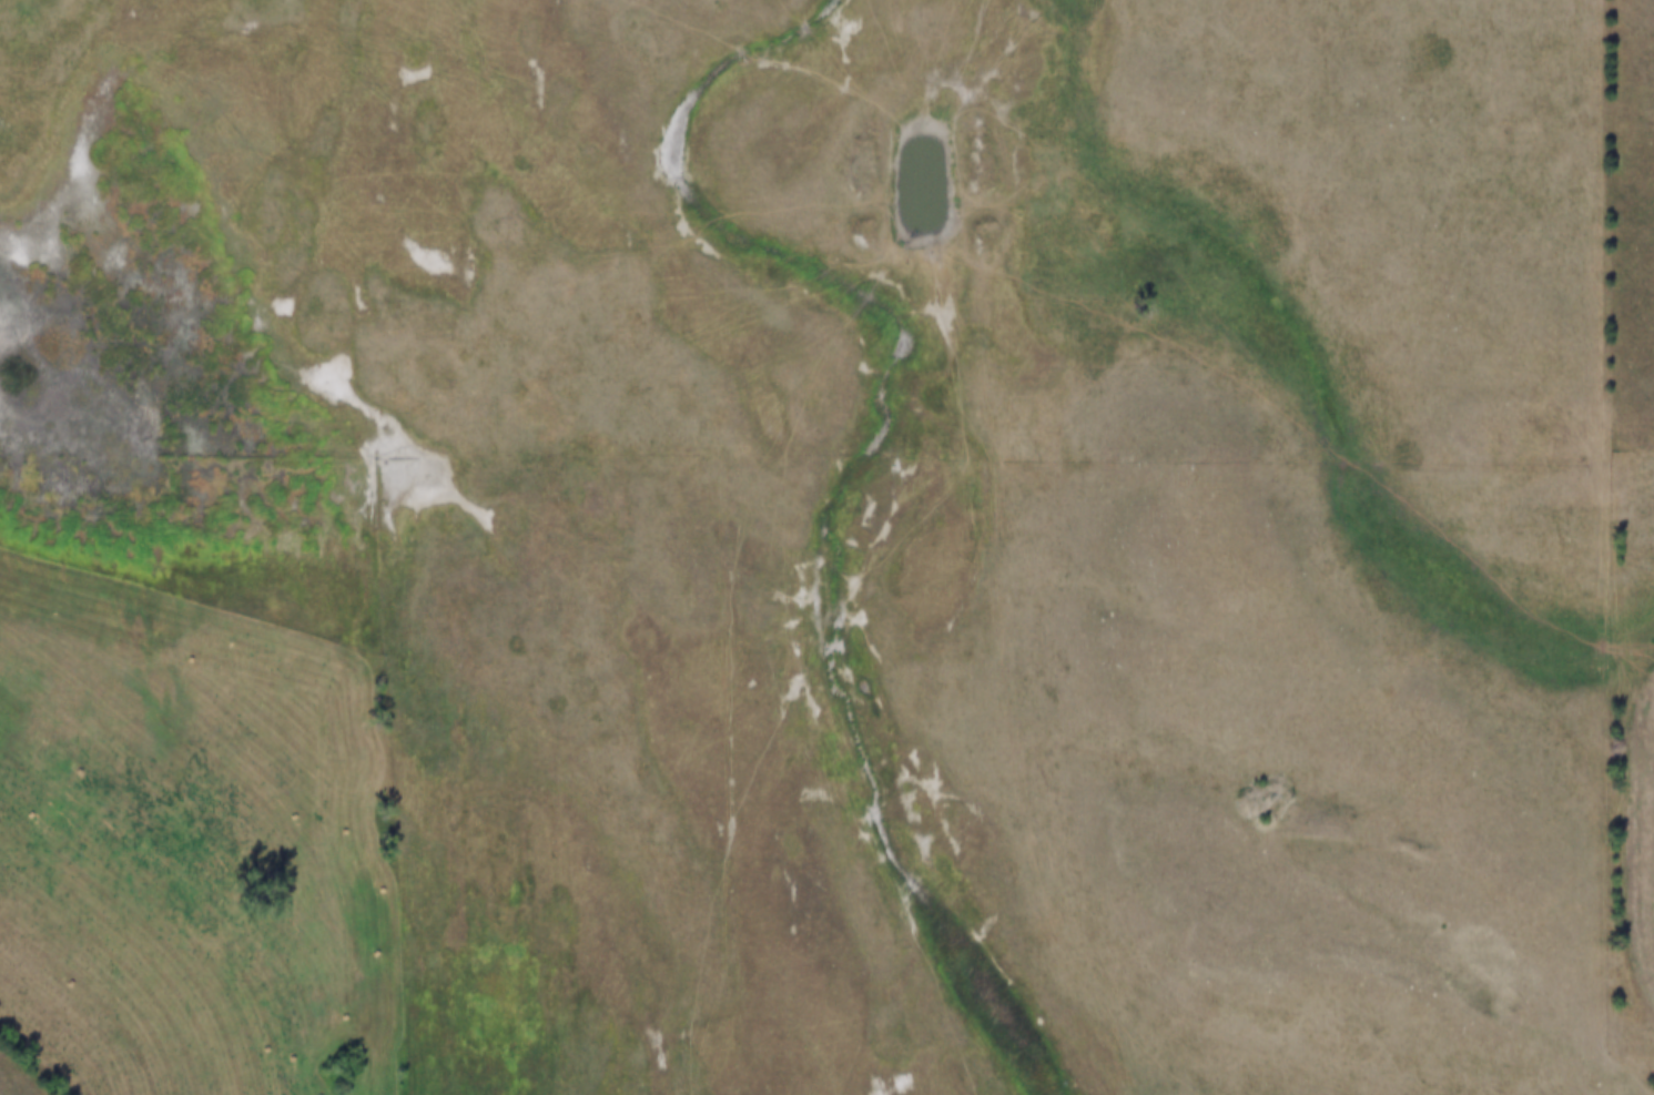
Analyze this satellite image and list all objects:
road: (1571, 1034)

